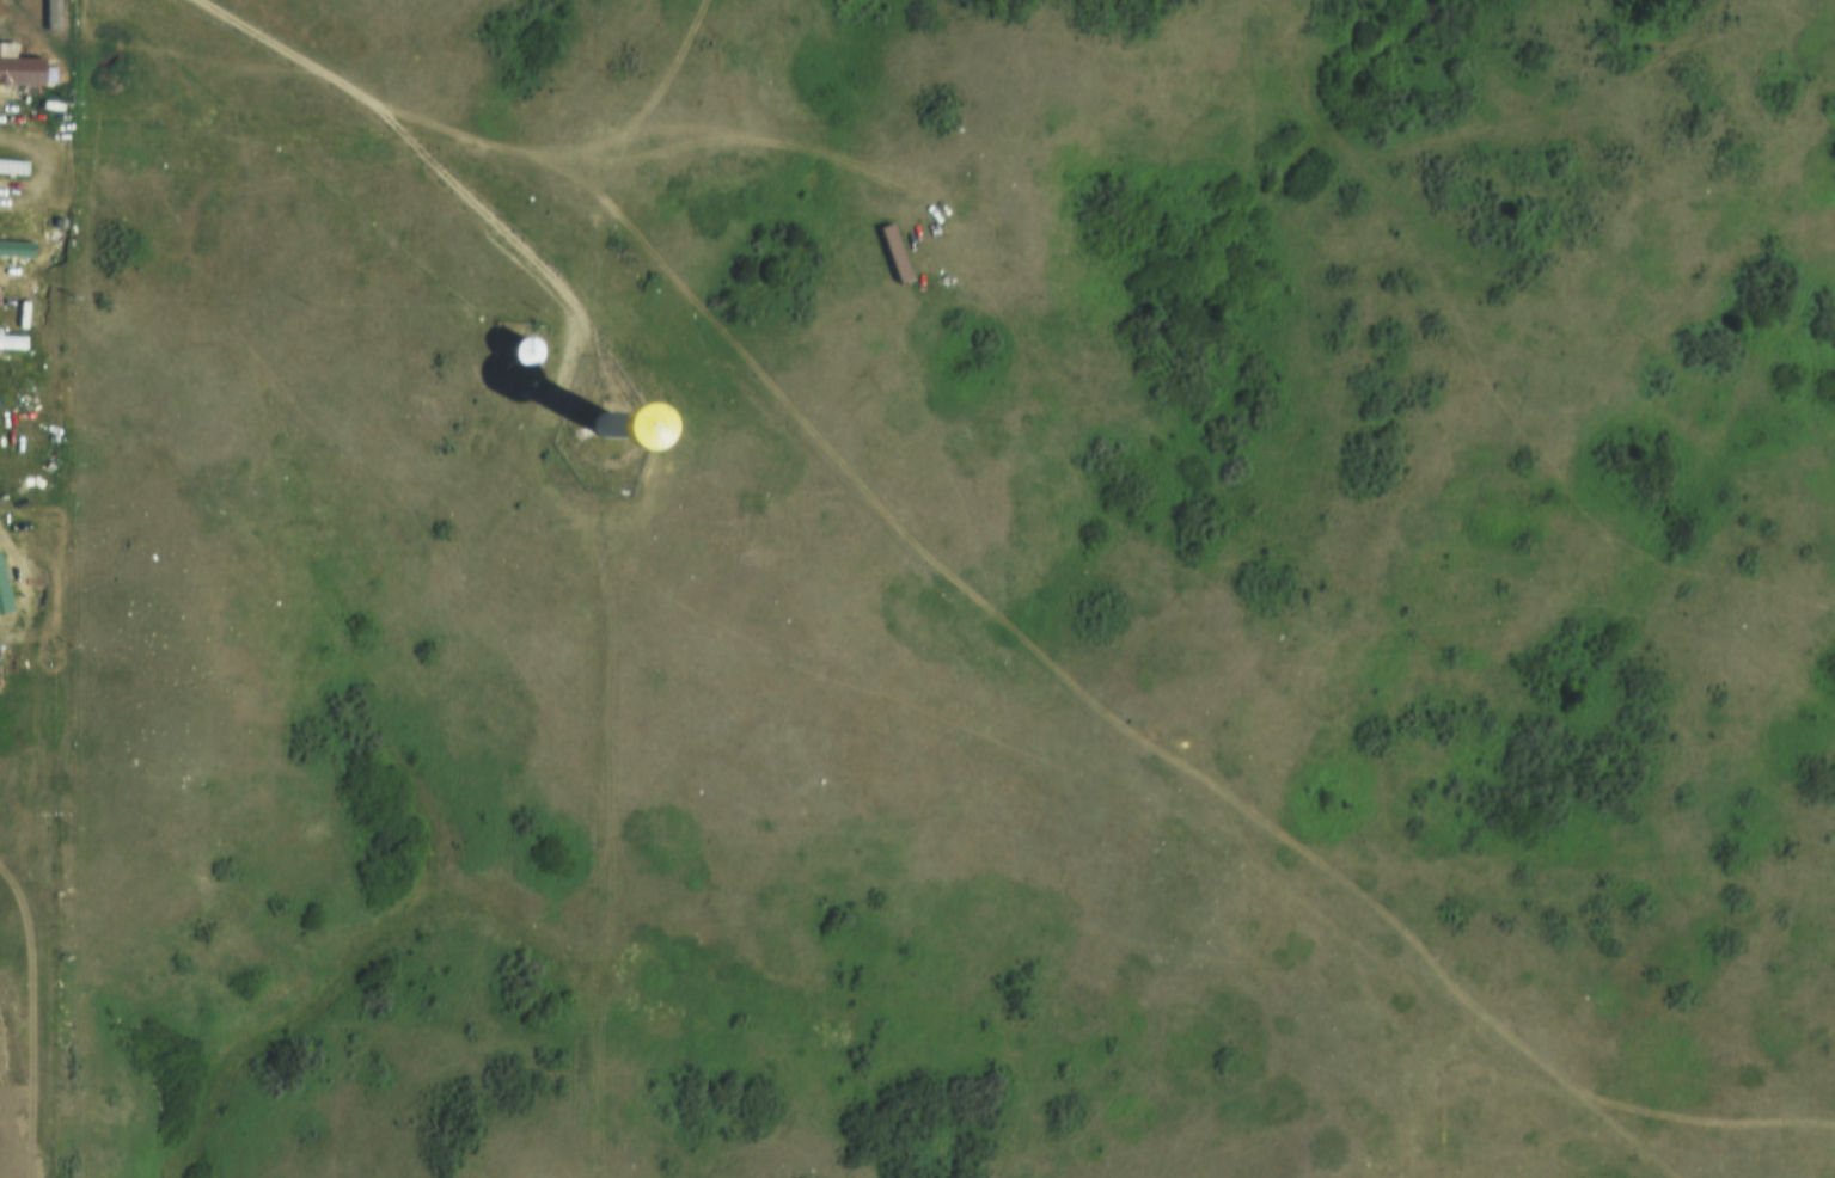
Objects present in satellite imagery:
building: (50, 12)
building: (18, 63)
road: (418, 141)
building: (12, 162)
building: (892, 251)
building: (11, 337)
water tower: (515, 349)
building: (521, 354)
building: (580, 405)
water tower: (601, 425)
building: (4, 589)

